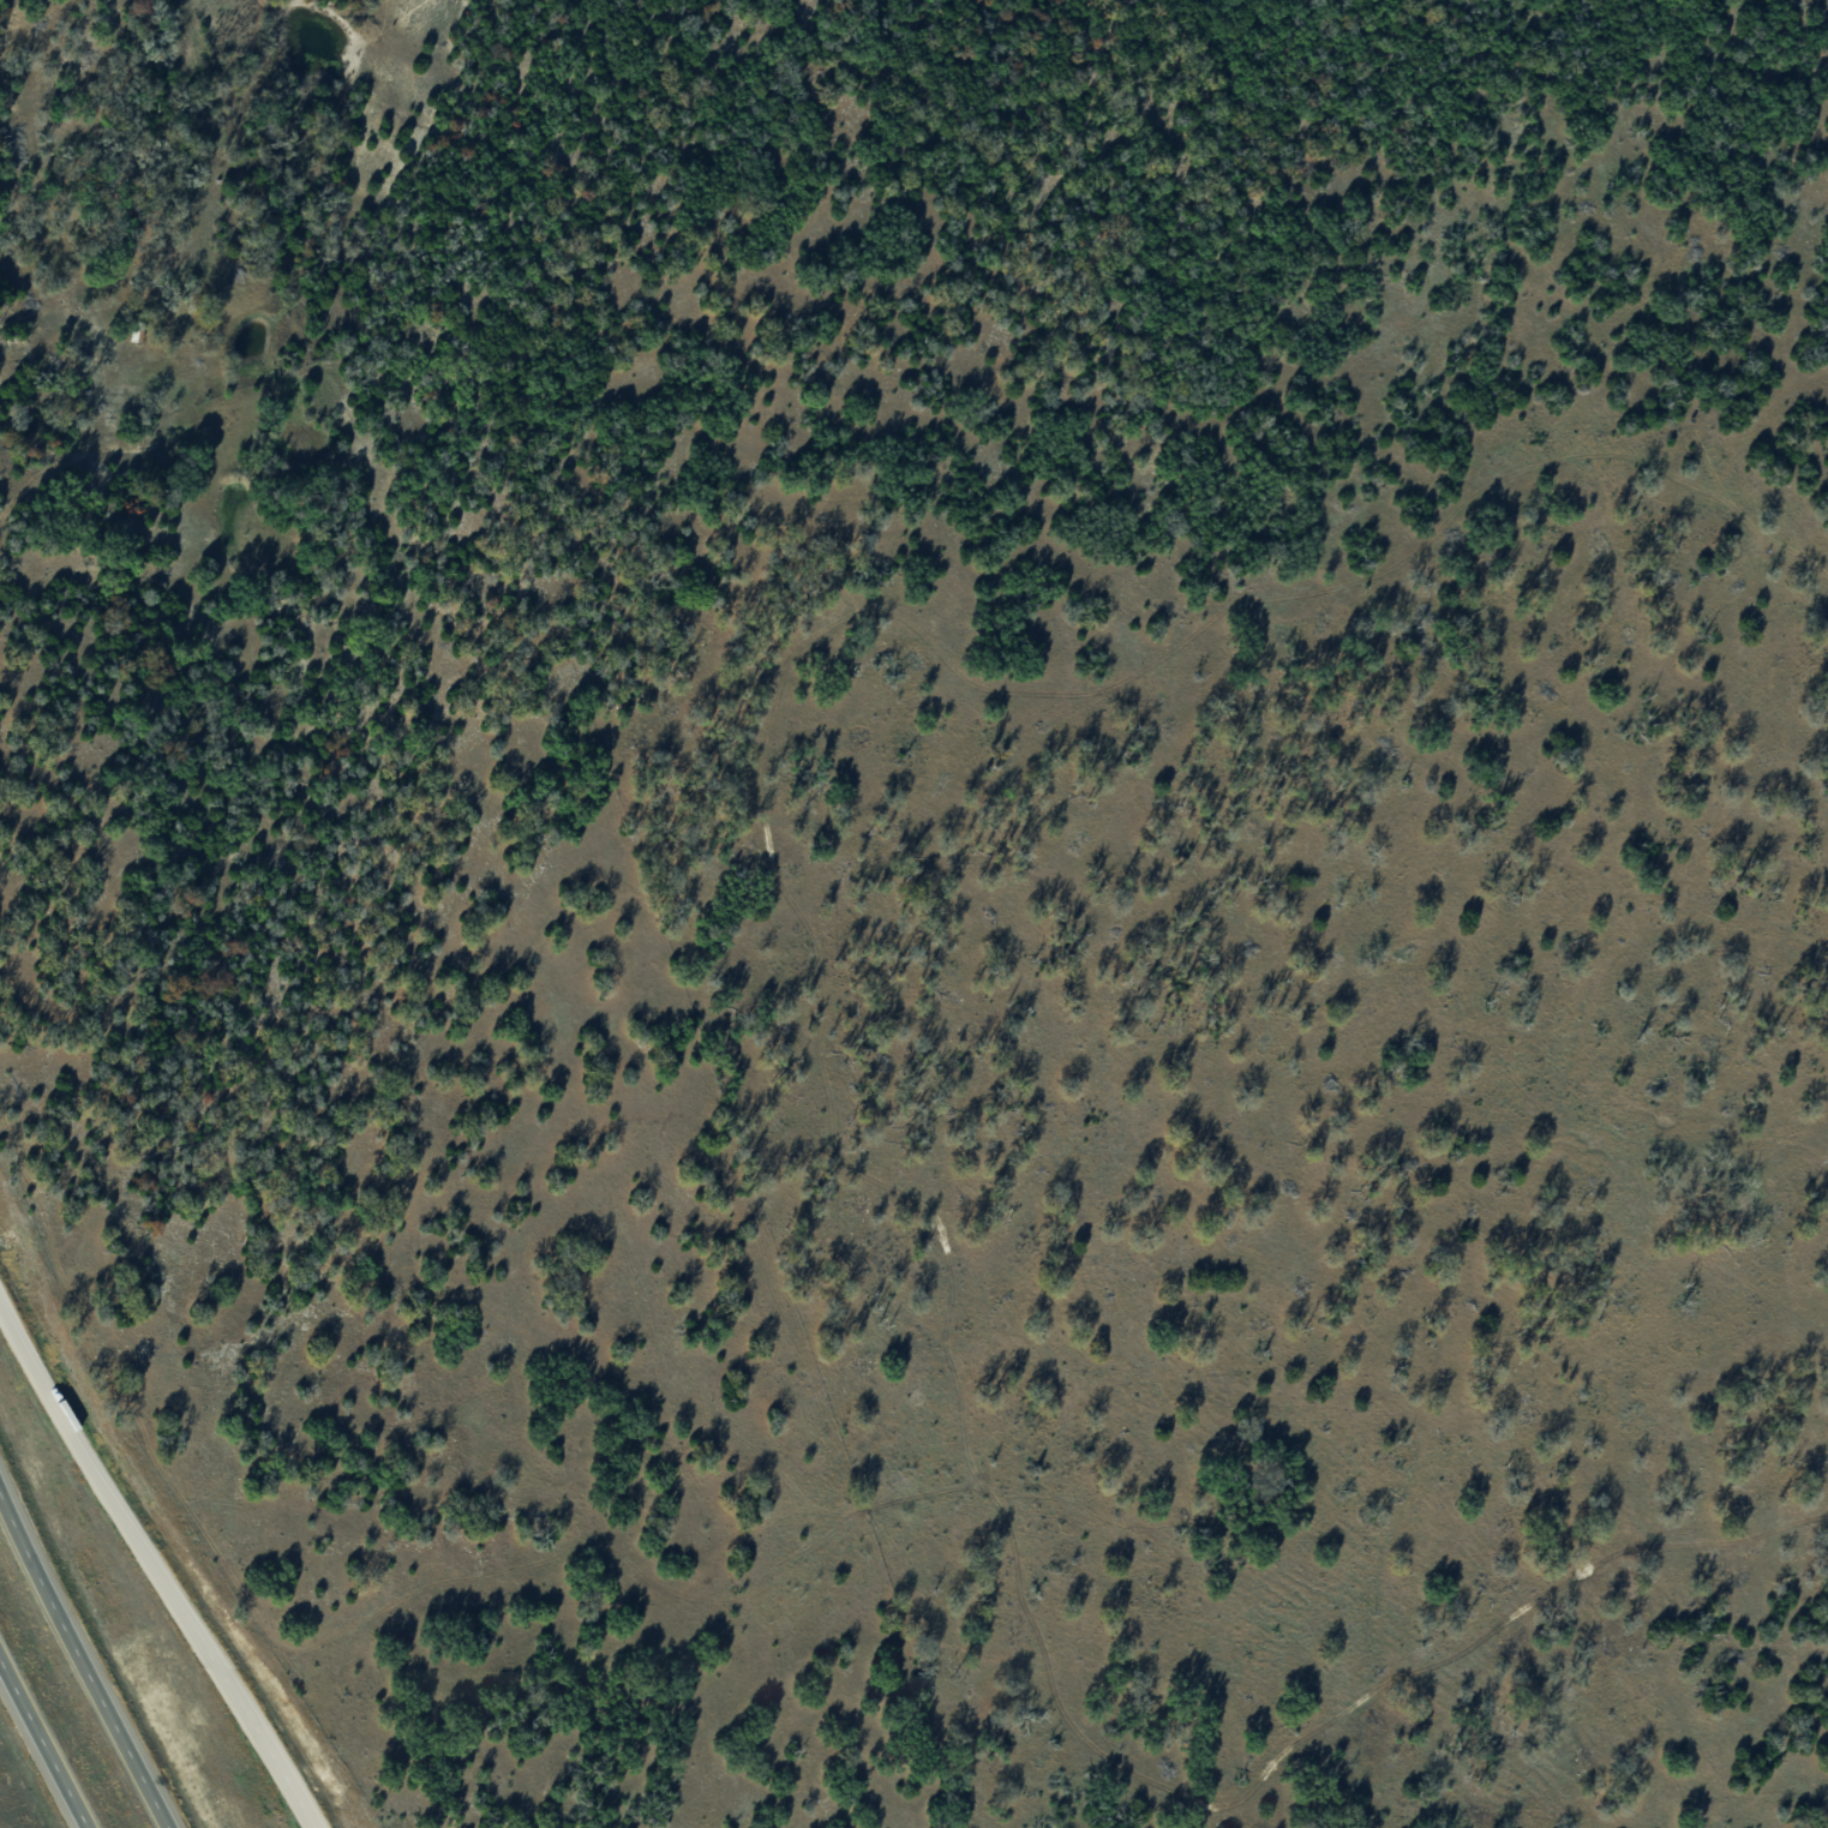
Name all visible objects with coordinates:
road: (154, 1571)
road: (82, 1662)
road: (43, 1743)

